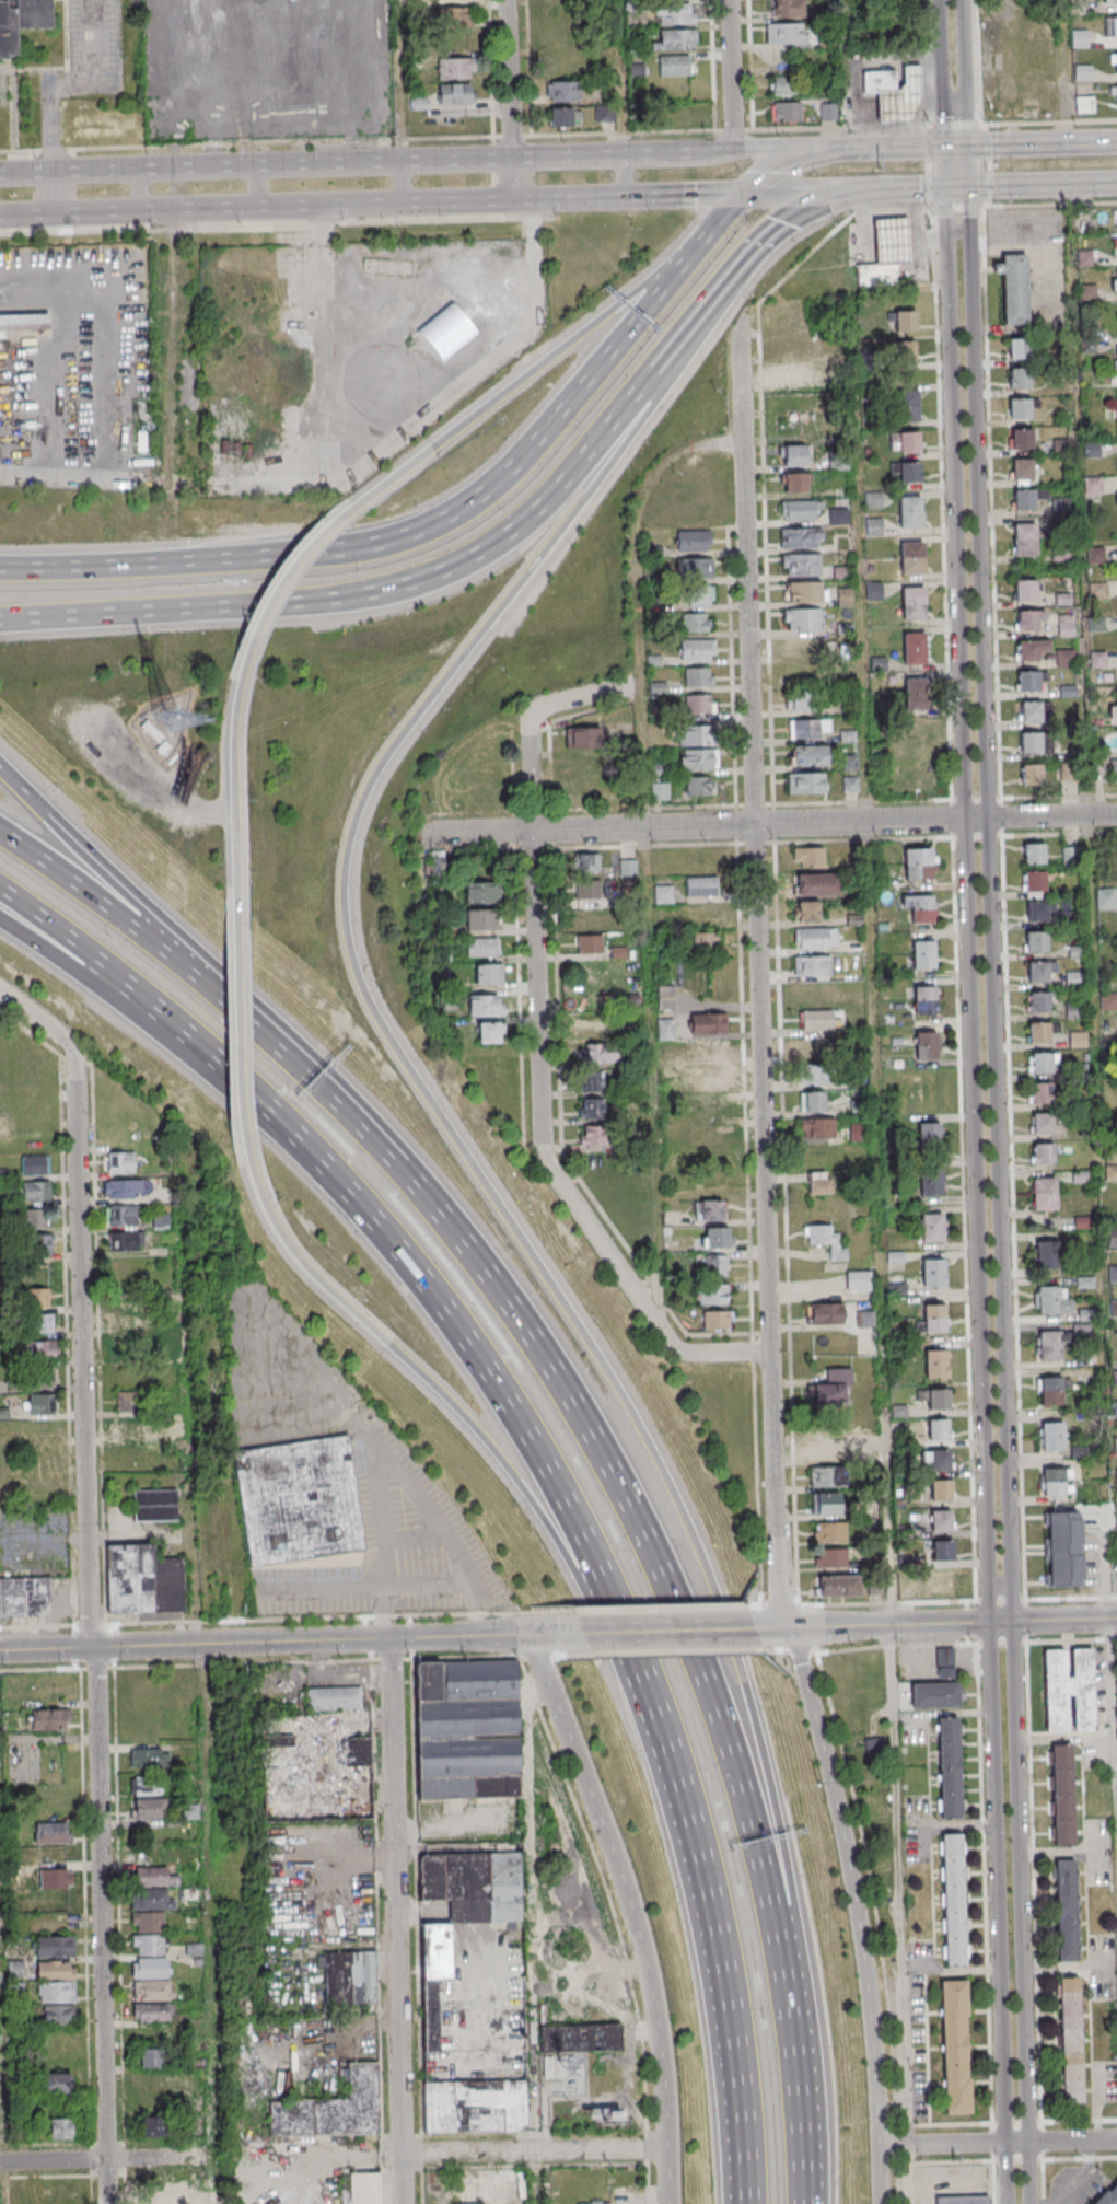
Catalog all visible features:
building: (454, 1)
building: (1113, 1)
building: (787, 8)
building: (1080, 8)
building: (674, 13)
building: (1010, 13)
building: (454, 20)
building: (22, 23)
building: (1114, 27)
building: (573, 31)
building: (786, 33)
building: (676, 39)
building: (1080, 39)
road: (95, 42)
parking lot: (98, 48)
building: (1116, 60)
building: (674, 65)
building: (455, 68)
road: (1063, 71)
road: (943, 73)
road: (965, 73)
building: (1083, 73)
road: (733, 76)
road: (621, 78)
road: (399, 81)
building: (880, 82)
road: (73, 84)
building: (783, 85)
building: (562, 91)
building: (456, 94)
building: (1116, 95)
building: (901, 97)
road: (511, 100)
building: (1084, 105)
building: (786, 111)
building: (827, 112)
building: (604, 113)
building: (680, 115)
building: (561, 116)
road: (53, 128)
road: (805, 129)
road: (1031, 143)
road: (246, 144)
traffic signals: (969, 147)
road: (915, 148)
traffic signals: (946, 148)
road: (862, 149)
road: (766, 151)
road: (788, 162)
road: (346, 163)
road: (969, 166)
road: (946, 167)
road: (625, 176)
road: (403, 183)
road: (1043, 184)
road: (259, 186)
traffic signals: (946, 187)
road: (958, 187)
traffic signals: (970, 187)
road: (914, 188)
road: (141, 189)
traffic signals: (881, 189)
road: (812, 190)
road: (55, 193)
traffic signals: (744, 193)
road: (372, 204)
road: (800, 212)
road: (713, 229)
road: (959, 232)
building: (893, 242)
building: (879, 275)
building: (1116, 279)
road: (724, 287)
building: (1014, 288)
building: (906, 321)
building: (24, 323)
building: (449, 326)
building: (783, 347)
building: (1019, 349)
building: (906, 351)
building: (1116, 358)
road: (528, 373)
building: (794, 373)
building: (1020, 379)
building: (908, 406)
building: (1021, 409)
building: (1116, 410)
building: (1022, 439)
building: (910, 442)
building: (1061, 448)
building: (1093, 451)
building: (791, 454)
road: (991, 461)
building: (840, 464)
building: (1023, 469)
road: (764, 472)
building: (910, 473)
road: (494, 482)
building: (793, 482)
building: (1093, 487)
building: (1025, 500)
road: (943, 504)
building: (1061, 508)
building: (799, 511)
building: (911, 513)
building: (838, 515)
building: (873, 526)
road: (509, 533)
building: (1024, 534)
building: (799, 540)
building: (691, 542)
building: (1062, 553)
building: (1096, 556)
building: (912, 558)
road: (112, 565)
road: (295, 565)
building: (802, 566)
building: (695, 569)
building: (873, 590)
building: (1026, 592)
building: (1099, 592)
building: (805, 593)
building: (698, 596)
road: (638, 598)
building: (1064, 600)
building: (914, 604)
road: (108, 612)
building: (803, 619)
building: (1028, 622)
building: (695, 624)
building: (1097, 625)
building: (1067, 627)
building: (803, 648)
building: (916, 650)
building: (698, 651)
building: (1027, 652)
building: (1066, 660)
building: (1099, 661)
road: (732, 676)
building: (699, 678)
building: (1029, 682)
building: (1069, 693)
building: (917, 695)
building: (796, 700)
building: (700, 706)
building: (1032, 712)
building: (1113, 714)
building: (811, 730)
building: (582, 736)
building: (700, 736)
building: (1032, 744)
building: (811, 757)
building: (701, 761)
building: (584, 764)
building: (1107, 770)
building: (1070, 774)
building: (1033, 776)
building: (806, 785)
building: (700, 788)
building: (659, 790)
road: (1059, 797)
road: (234, 809)
road: (825, 822)
road: (478, 833)
road: (757, 835)
road: (927, 838)
road: (626, 847)
building: (806, 856)
building: (1035, 856)
building: (1072, 857)
building: (587, 861)
building: (919, 866)
building: (628, 867)
road: (118, 879)
building: (1036, 883)
building: (816, 884)
building: (701, 885)
building: (589, 890)
building: (663, 893)
building: (484, 894)
building: (1106, 901)
building: (806, 910)
building: (922, 910)
building: (1038, 913)
building: (705, 914)
building: (1072, 920)
building: (484, 921)
building: (812, 939)
building: (705, 941)
building: (589, 943)
building: (1037, 943)
road: (85, 948)
building: (485, 949)
building: (924, 956)
road: (872, 961)
building: (812, 965)
road: (81, 971)
building: (1038, 974)
building: (489, 976)
building: (1075, 981)
road: (211, 993)
road: (520, 1001)
building: (926, 1002)
building: (1108, 1004)
building: (1039, 1005)
building: (486, 1007)
building: (1077, 1012)
building: (818, 1021)
building: (707, 1023)
building: (589, 1025)
road: (50, 1030)
road: (558, 1033)
building: (1040, 1034)
building: (489, 1035)
building: (1109, 1037)
building: (1079, 1042)
road: (243, 1044)
road: (540, 1044)
building: (814, 1047)
building: (928, 1047)
building: (707, 1049)
building: (602, 1056)
building: (1043, 1065)
building: (815, 1074)
road: (329, 1077)
building: (591, 1081)
building: (710, 1082)
building: (1043, 1095)
building: (812, 1101)
building: (591, 1107)
building: (1044, 1125)
building: (816, 1127)
building: (591, 1135)
building: (929, 1139)
building: (1045, 1156)
building: (120, 1162)
building: (35, 1164)
road: (474, 1167)
building: (1110, 1174)
building: (818, 1182)
building: (931, 1185)
building: (123, 1188)
building: (35, 1191)
road: (977, 1195)
road: (1001, 1195)
building: (1045, 1198)
building: (712, 1213)
building: (121, 1215)
building: (35, 1218)
road: (787, 1225)
building: (1084, 1225)
building: (932, 1230)
building: (126, 1240)
building: (717, 1240)
building: (1113, 1240)
building: (824, 1241)
building: (37, 1244)
road: (751, 1254)
building: (1048, 1255)
building: (717, 1267)
building: (934, 1275)
building: (1114, 1275)
building: (858, 1280)
building: (38, 1297)
building: (713, 1297)
building: (1049, 1302)
road: (456, 1310)
building: (1114, 1311)
building: (824, 1313)
building: (126, 1315)
building: (935, 1321)
building: (718, 1322)
building: (42, 1324)
building: (1050, 1347)
building: (39, 1352)
building: (938, 1366)
building: (43, 1377)
building: (1115, 1379)
building: (830, 1390)
road: (773, 1392)
building: (1051, 1393)
road: (452, 1399)
building: (128, 1401)
building: (940, 1402)
building: (40, 1404)
building: (1116, 1411)
building: (124, 1427)
building: (939, 1432)
building: (1054, 1439)
building: (1116, 1445)
building: (822, 1447)
building: (941, 1462)
building: (826, 1476)
road: (1022, 1481)
building: (1055, 1484)
building: (942, 1493)
building: (298, 1500)
building: (825, 1504)
building: (154, 1505)
road: (974, 1506)
building: (941, 1523)
road: (778, 1531)
building: (829, 1531)
building: (1064, 1552)
building: (944, 1553)
building: (830, 1557)
building: (142, 1580)
building: (944, 1584)
building: (838, 1585)
building: (24, 1597)
road: (677, 1604)
road: (754, 1606)
road: (662, 1611)
road: (288, 1620)
traffic signals: (1015, 1623)
road: (936, 1624)
traffic signals: (991, 1624)
road: (671, 1632)
road: (292, 1642)
road: (92, 1643)
building: (944, 1662)
road: (1115, 1683)
building: (1069, 1690)
building: (934, 1695)
building: (334, 1698)
building: (50, 1719)
building: (466, 1729)
road: (676, 1754)
building: (149, 1758)
building: (949, 1771)
building: (312, 1779)
building: (147, 1786)
building: (1063, 1798)
building: (149, 1810)
building: (51, 1834)
building: (154, 1878)
building: (57, 1880)
road: (850, 1884)
road: (899, 1886)
building: (152, 1900)
road: (209, 1901)
building: (954, 1903)
road: (631, 1912)
building: (1068, 1914)
road: (396, 1921)
building: (149, 1934)
road: (532, 1940)
building: (54, 1946)
building: (349, 1976)
building: (151, 1979)
building: (56, 1982)
building: (472, 1999)
building: (151, 2012)
building: (58, 2015)
road: (737, 2016)
building: (580, 2038)
building: (1071, 2043)
building: (955, 2052)
building: (148, 2057)
building: (55, 2083)
building: (331, 2109)
road: (1, 2112)
building: (616, 2115)
road: (1080, 2122)
building: (153, 2126)
building: (62, 2127)
road: (997, 2143)
road: (804, 2150)
road: (497, 2151)
road: (106, 2158)
road: (1060, 2160)
road: (909, 2174)
road: (877, 2176)
building: (364, 2189)
building: (1108, 2195)
building: (158, 2202)
building: (594, 2202)

